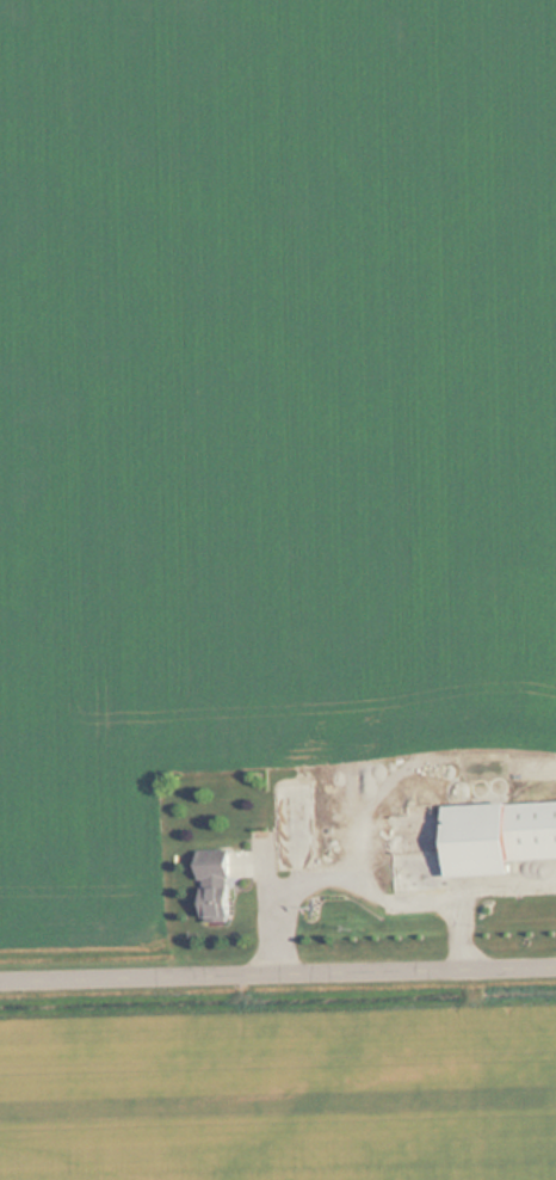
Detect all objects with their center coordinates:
building: (295, 825)
building: (468, 840)
building: (218, 884)
road: (278, 971)

